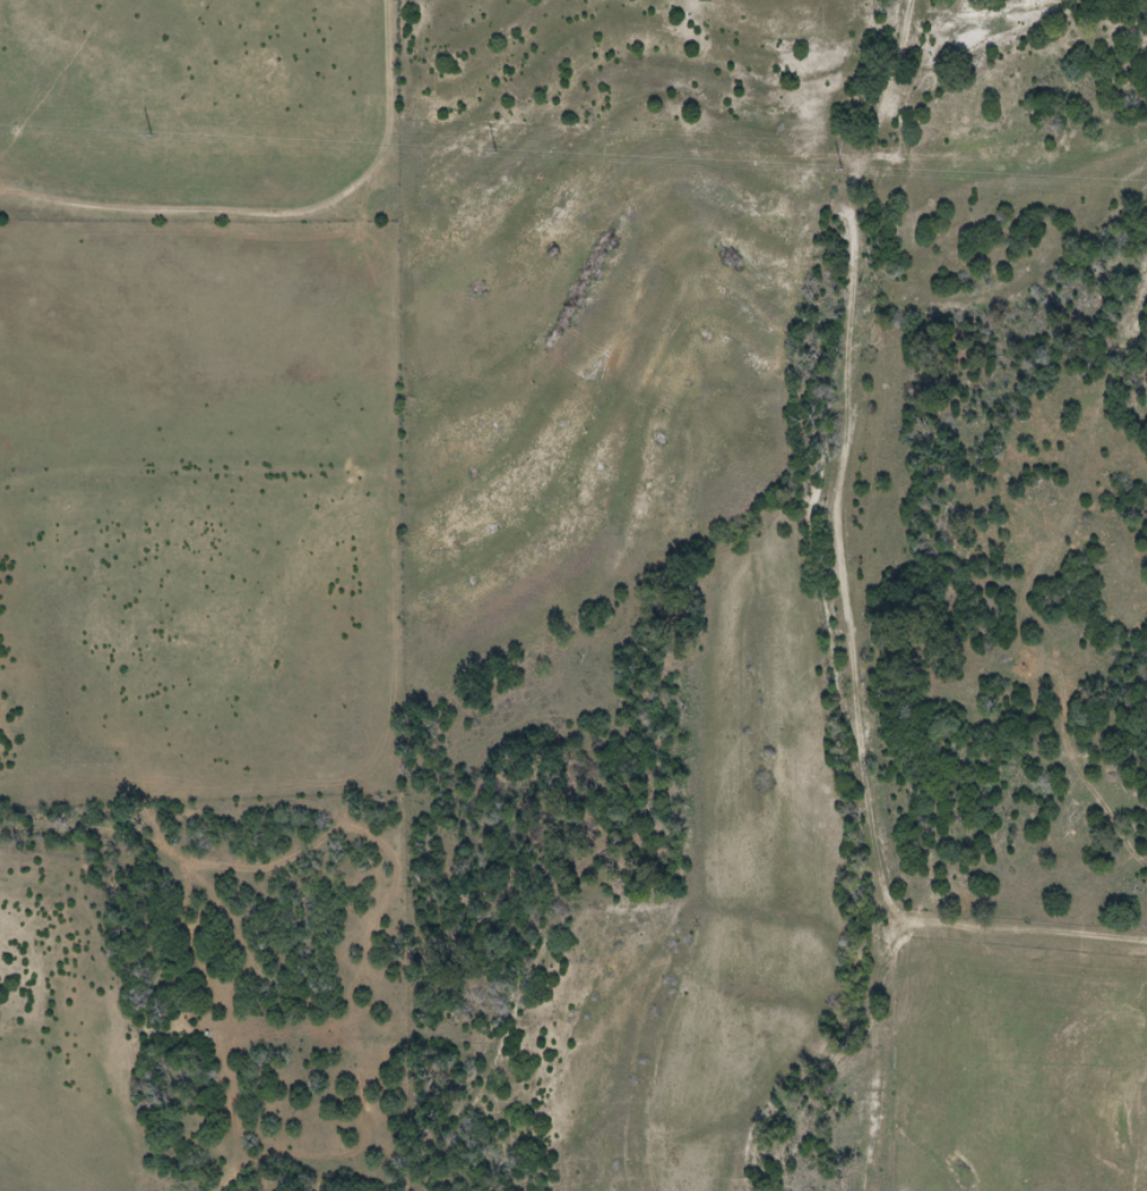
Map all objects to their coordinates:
power tower: (153, 136)
power tower: (499, 153)
power tower: (843, 170)
road: (850, 214)
road: (872, 801)

